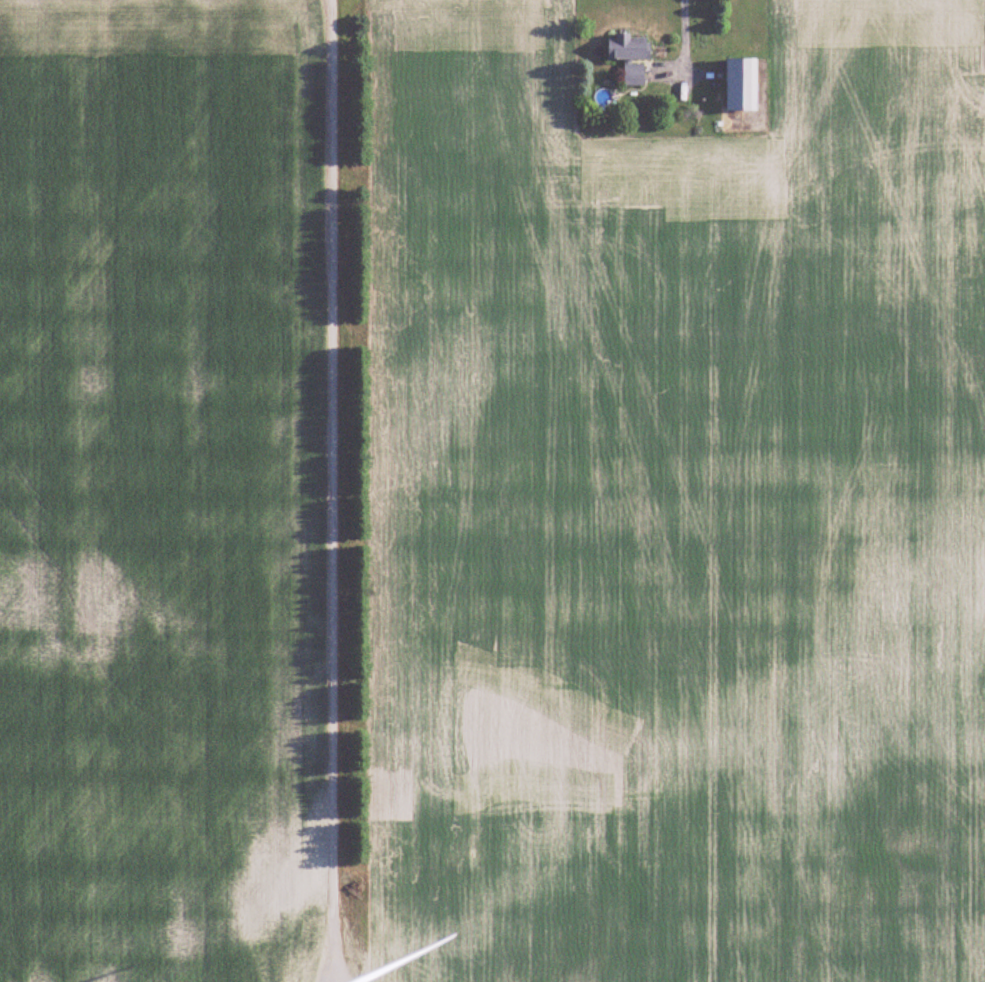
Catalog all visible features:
building: (628, 47)
building: (741, 84)
road: (319, 428)
wind turbine: (357, 976)

